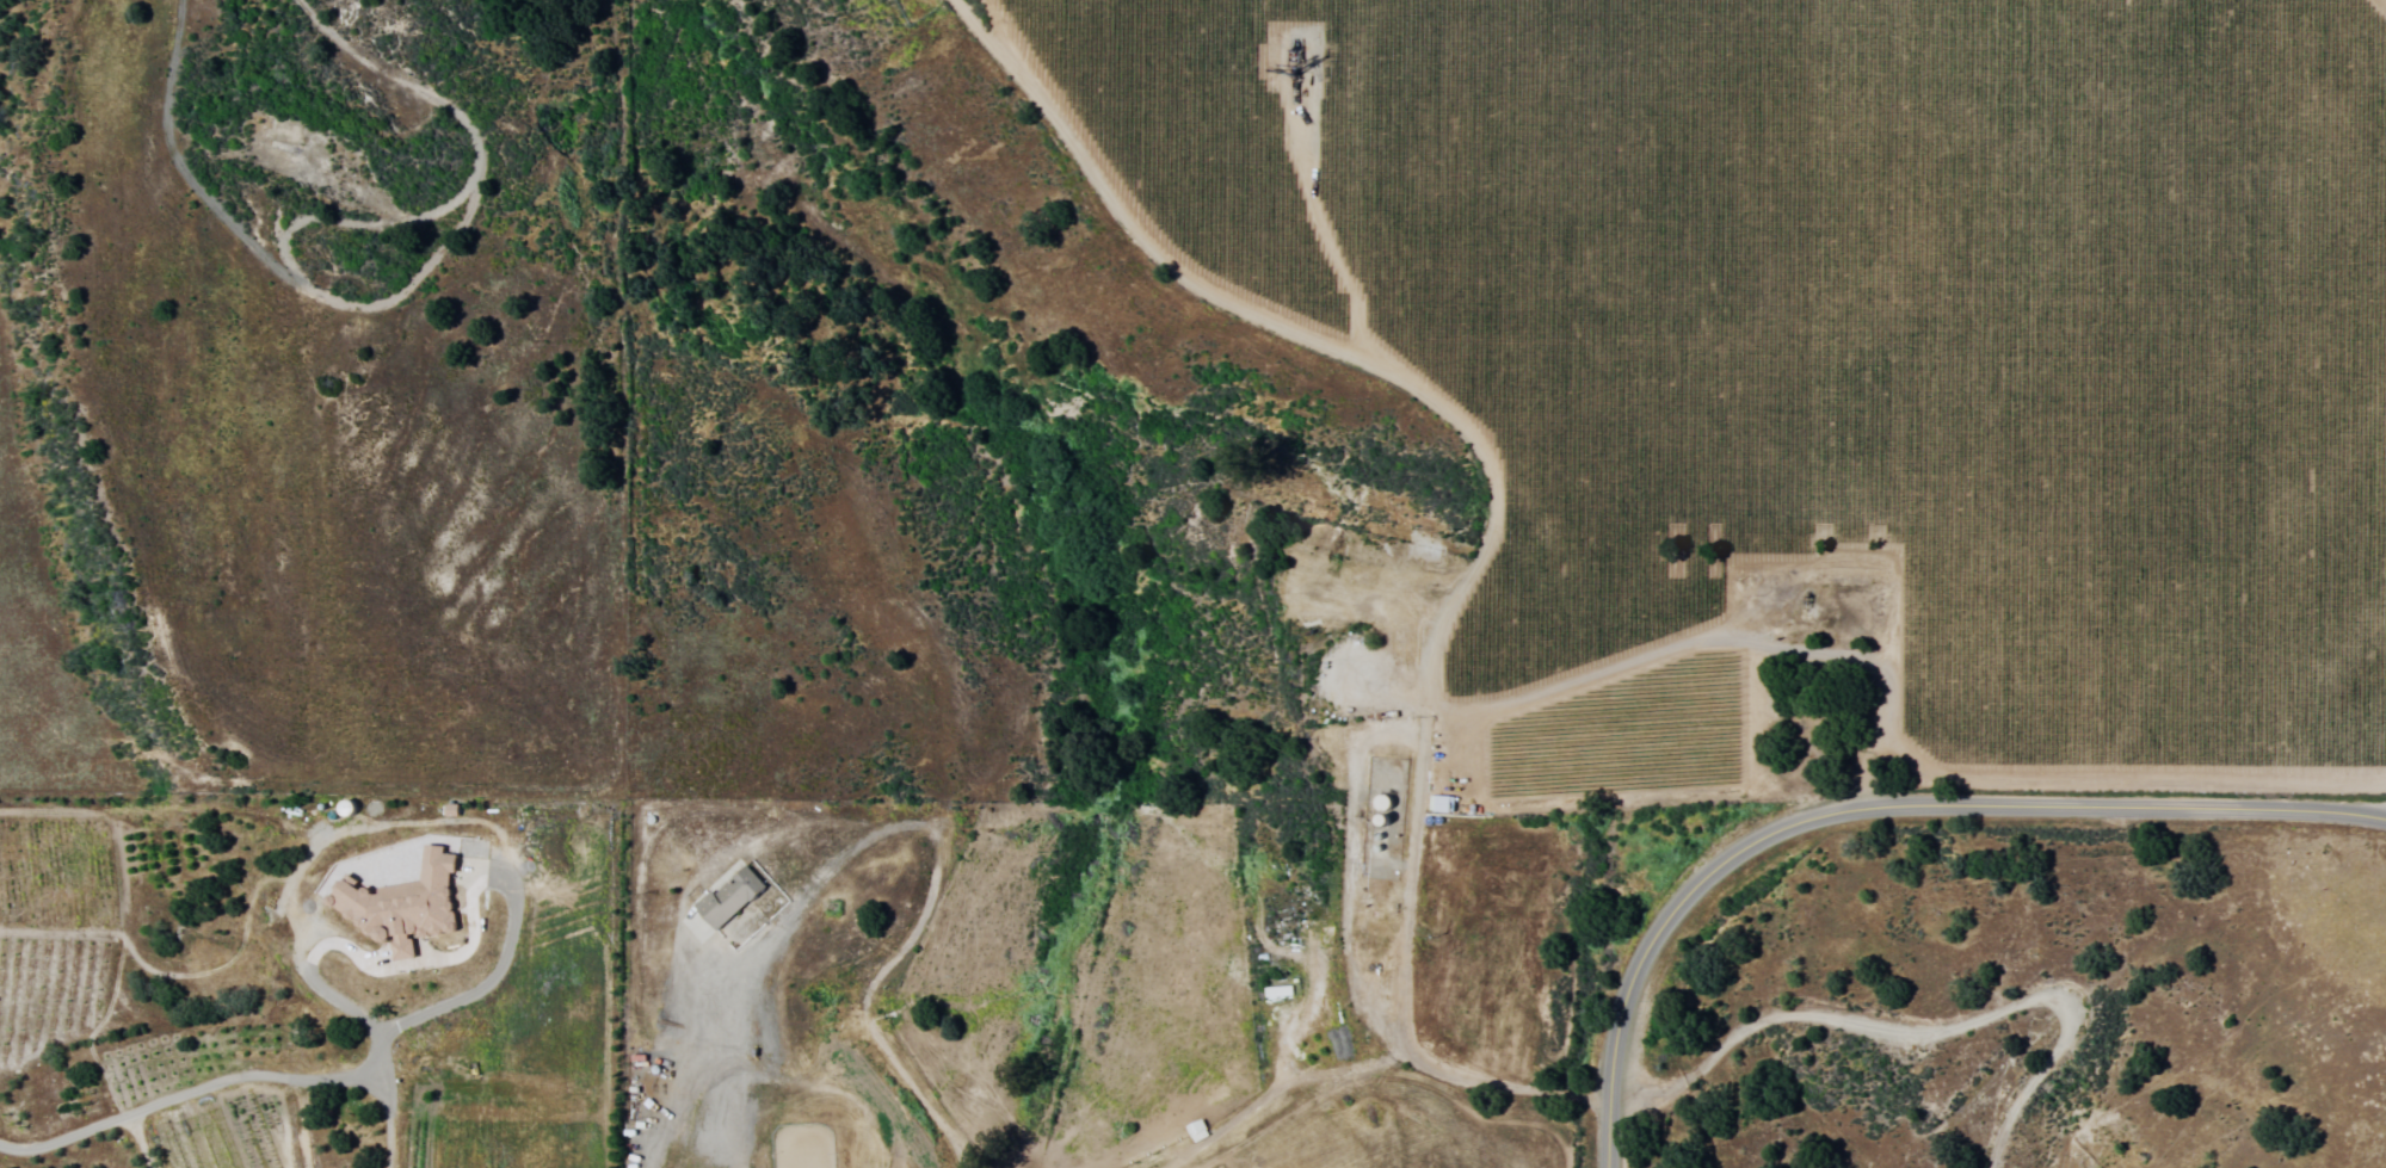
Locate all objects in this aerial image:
road: (406, 79)
road: (1128, 216)
road: (1299, 224)
road: (288, 249)
road: (1442, 638)
building: (1438, 803)
road: (1878, 804)
building: (727, 896)
building: (399, 903)
building: (1277, 991)
road: (867, 1015)
road: (1702, 1061)
building: (1195, 1130)

